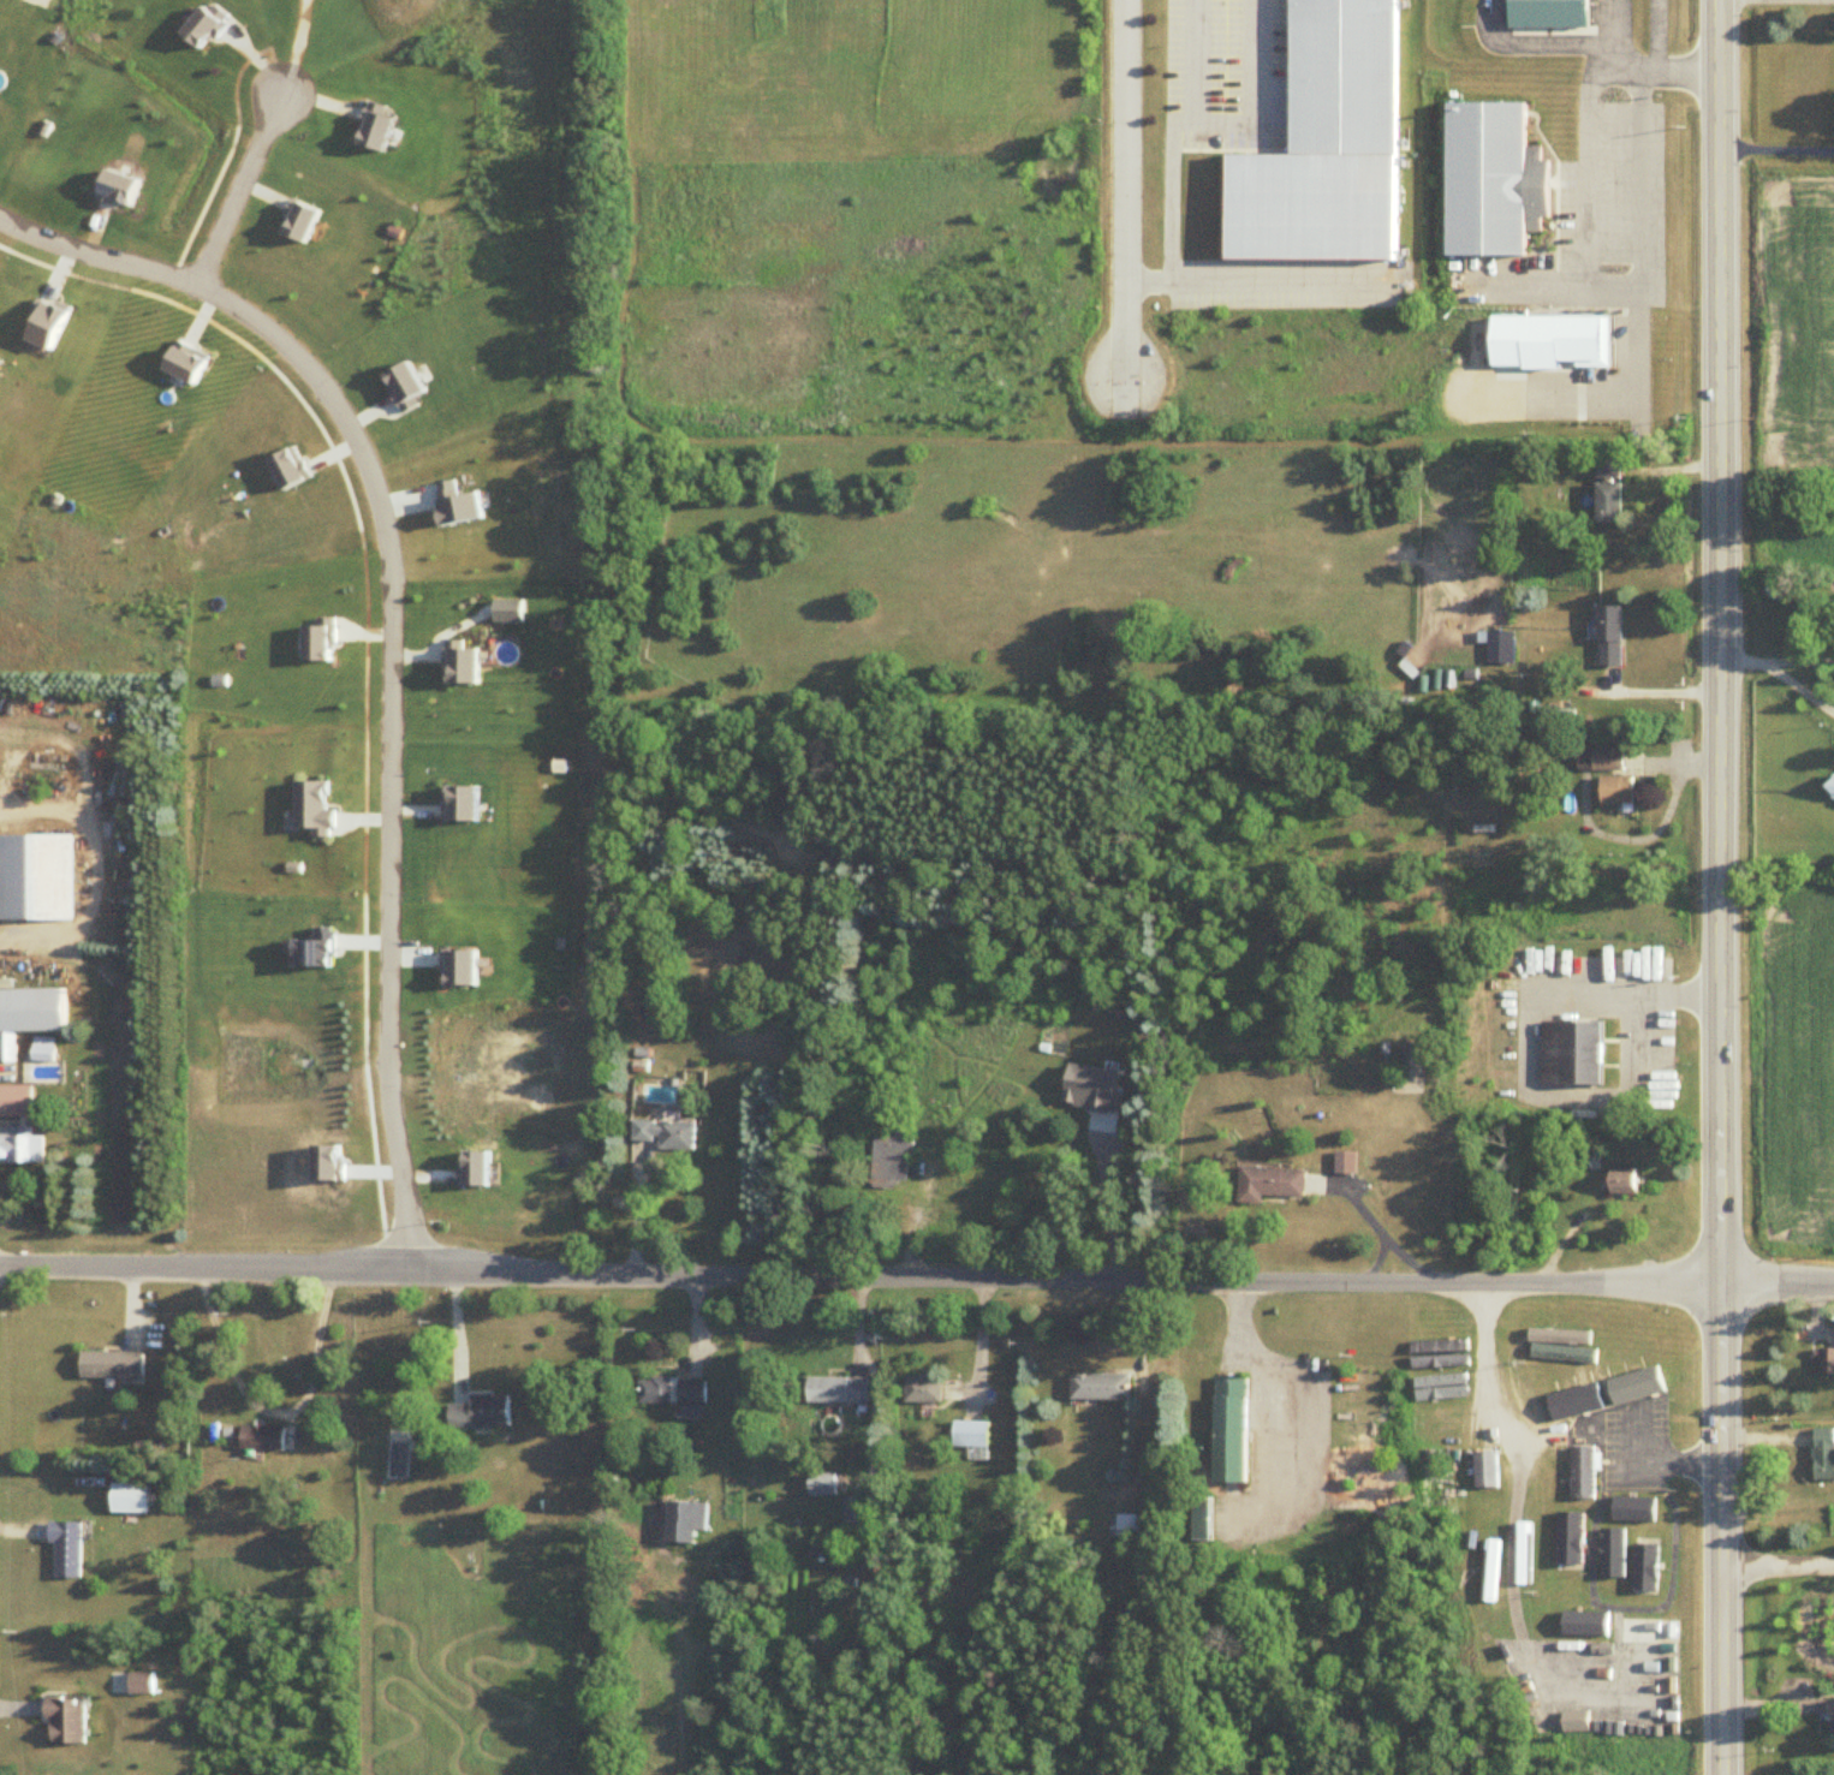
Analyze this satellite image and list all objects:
building: (1546, 11)
road: (1614, 31)
road: (1656, 32)
road: (1536, 37)
road: (296, 49)
parking lot: (1227, 72)
road: (1614, 105)
road: (1281, 123)
road: (1226, 125)
building: (1328, 144)
road: (1778, 149)
building: (1490, 175)
road: (1123, 184)
road: (1166, 184)
road: (1548, 186)
road: (232, 190)
road: (1583, 239)
road: (1537, 245)
road: (1613, 246)
road: (1276, 273)
road: (1144, 274)
road: (1530, 275)
parking lot: (1292, 285)
building: (1561, 336)
road: (1602, 394)
road: (1123, 422)
building: (1608, 494)
building: (1609, 637)
road: (391, 638)
road: (1722, 642)
building: (1500, 647)
road: (1741, 661)
road: (1797, 661)
road: (1797, 686)
road: (1661, 696)
building: (1601, 760)
building: (1618, 790)
building: (36, 875)
building: (30, 1008)
building: (42, 1052)
building: (1573, 1054)
road: (1526, 1055)
building: (1418, 1060)
building: (18, 1126)
building: (668, 1134)
building: (889, 1162)
building: (951, 1180)
building: (1273, 1184)
building: (1627, 1184)
road: (1107, 1205)
road: (636, 1217)
road: (916, 1277)
road: (449, 1338)
road: (981, 1342)
building: (1826, 1364)
building: (111, 1365)
building: (1648, 1368)
road: (871, 1377)
building: (1606, 1381)
building: (1101, 1387)
building: (1573, 1387)
building: (923, 1390)
building: (672, 1392)
building: (838, 1392)
building: (1526, 1393)
road: (266, 1404)
building: (482, 1413)
building: (1231, 1430)
building: (971, 1435)
building: (262, 1439)
building: (1824, 1454)
road: (1660, 1458)
building: (400, 1461)
road: (1518, 1464)
building: (1489, 1470)
building: (1584, 1472)
building: (1449, 1479)
building: (822, 1485)
building: (129, 1499)
building: (1634, 1509)
building: (685, 1523)
building: (1126, 1525)
road: (1726, 1530)
building: (1572, 1543)
building: (65, 1550)
road: (1780, 1566)
building: (1644, 1567)
building: (1584, 1627)
building: (1484, 1652)
building: (142, 1685)
building: (1833, 1717)
building: (66, 1723)

